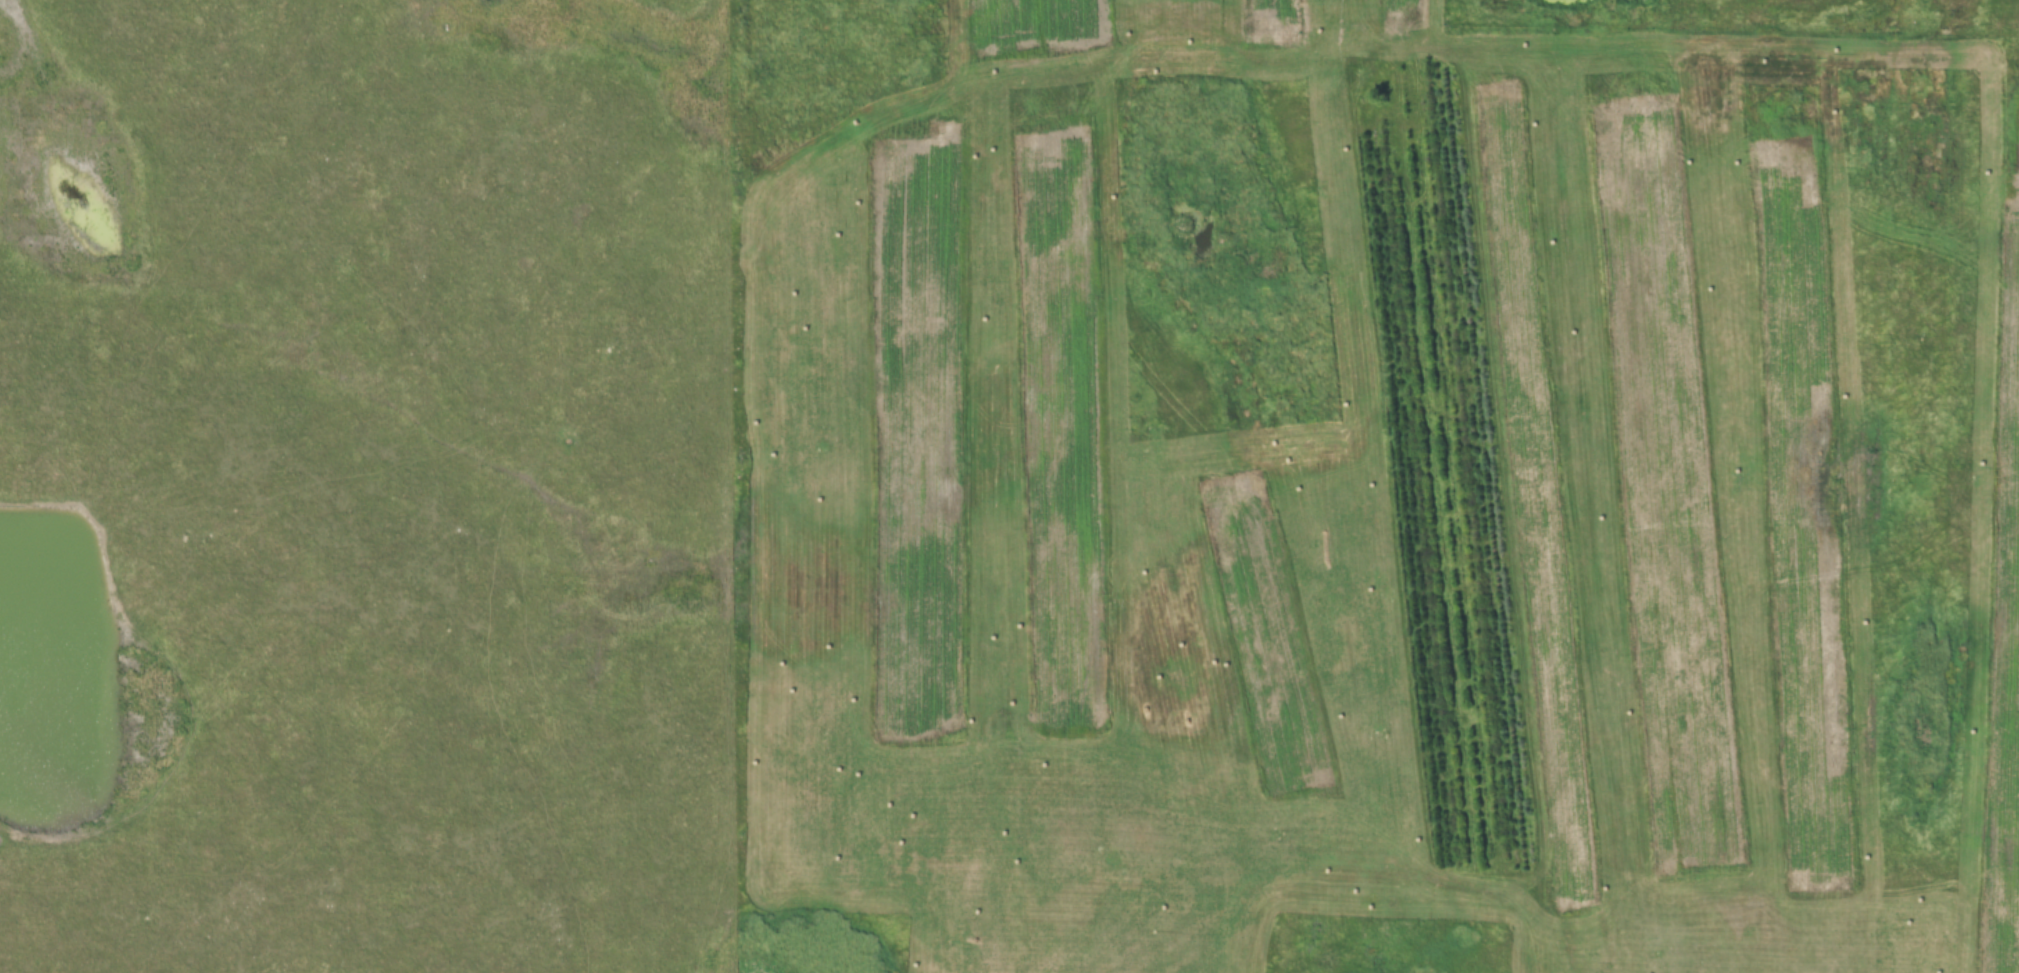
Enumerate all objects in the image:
building: (1673, 964)

